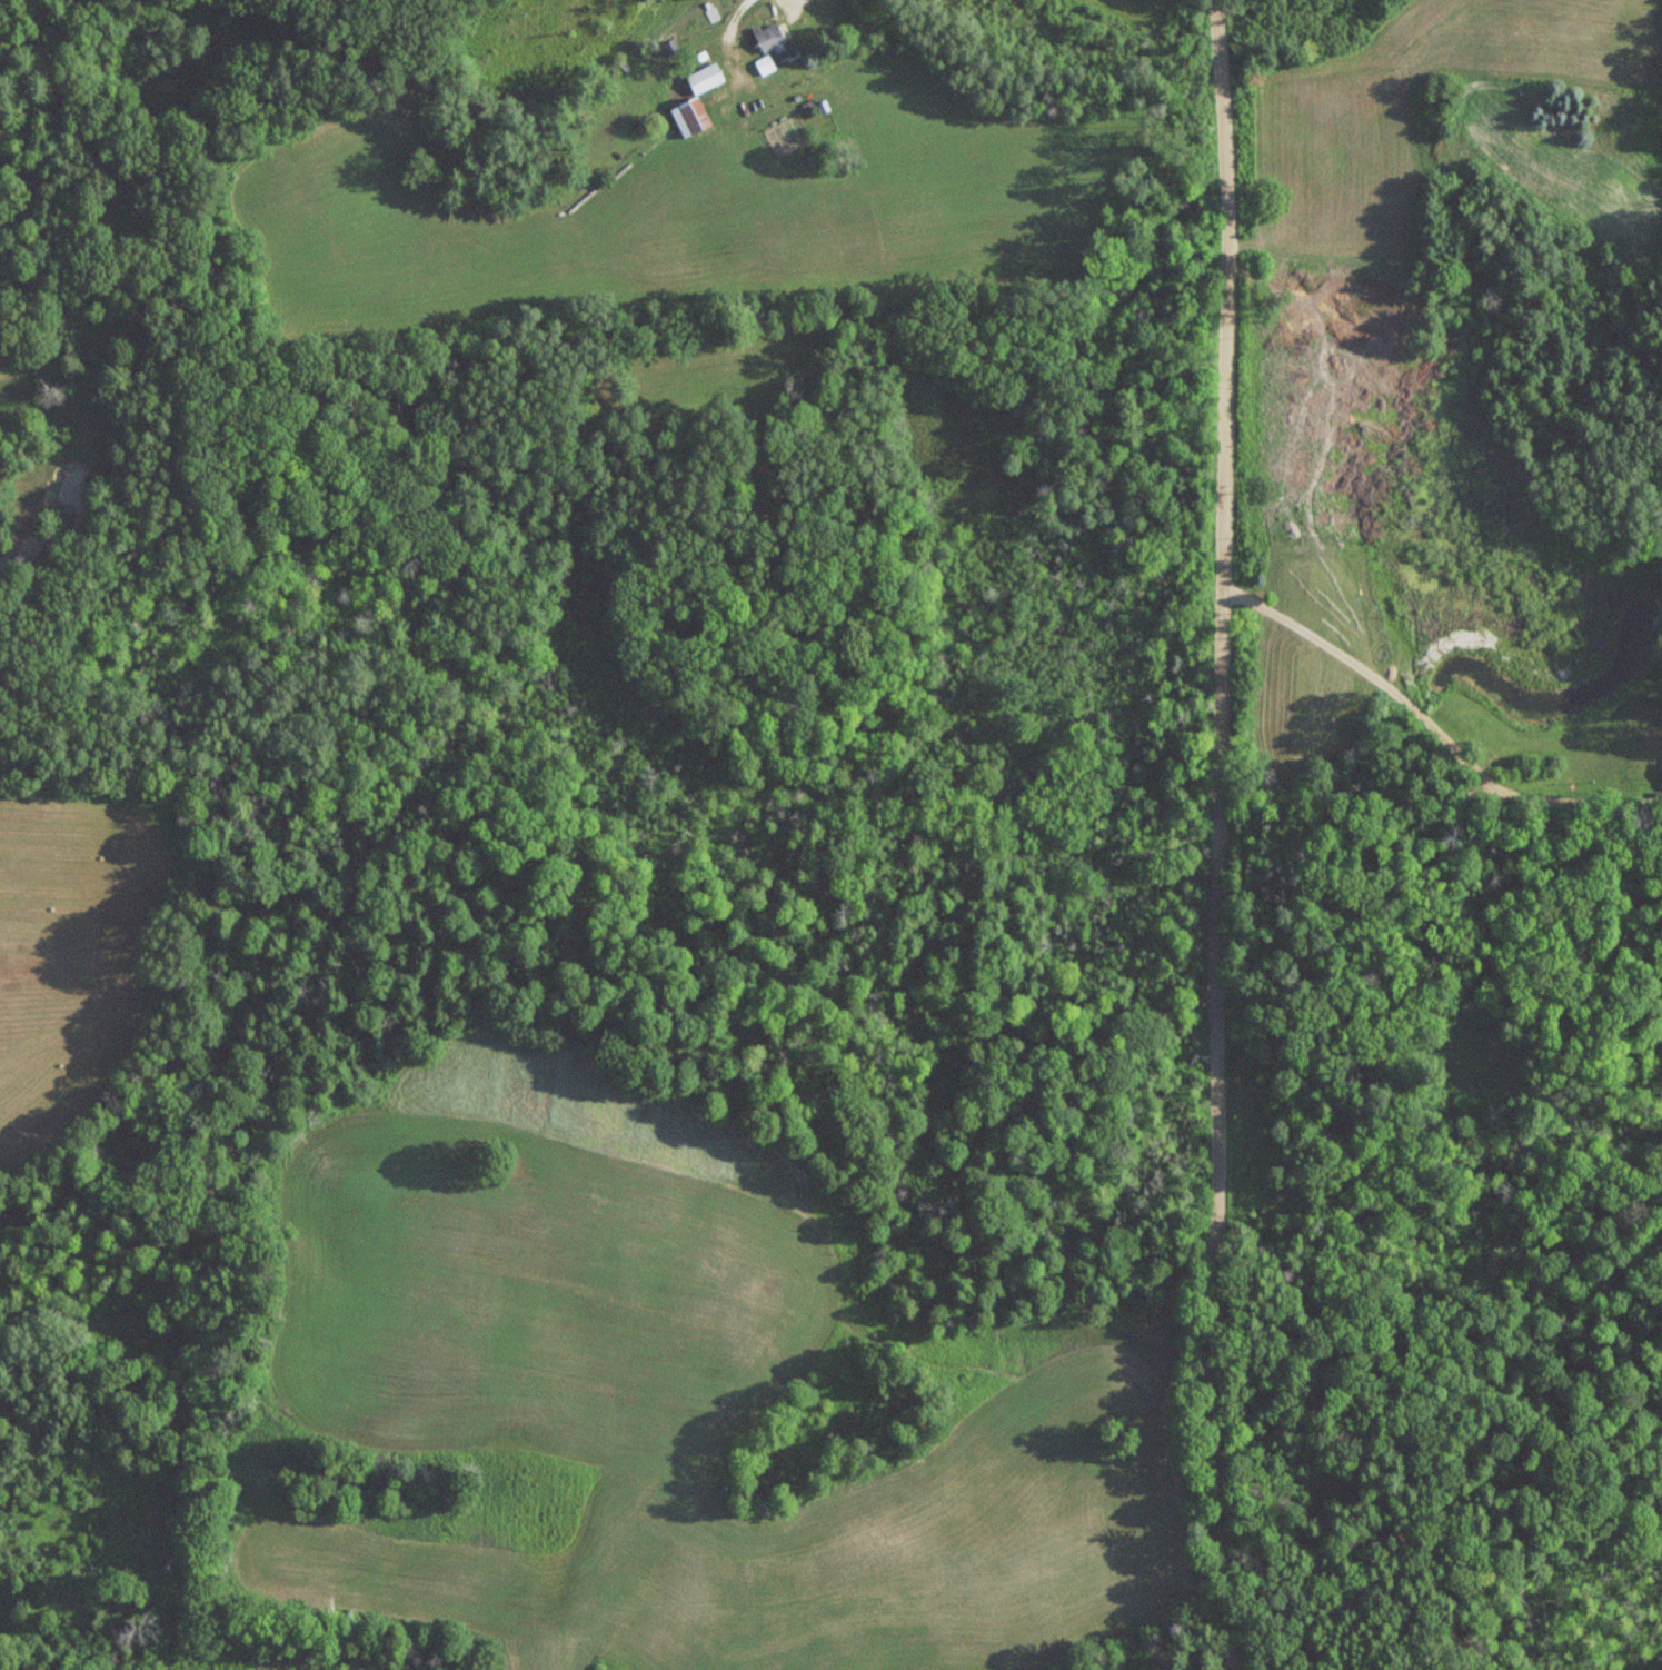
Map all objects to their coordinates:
building: (768, 38)
building: (704, 79)
building: (689, 118)
road: (1223, 834)
building: (965, 1103)

